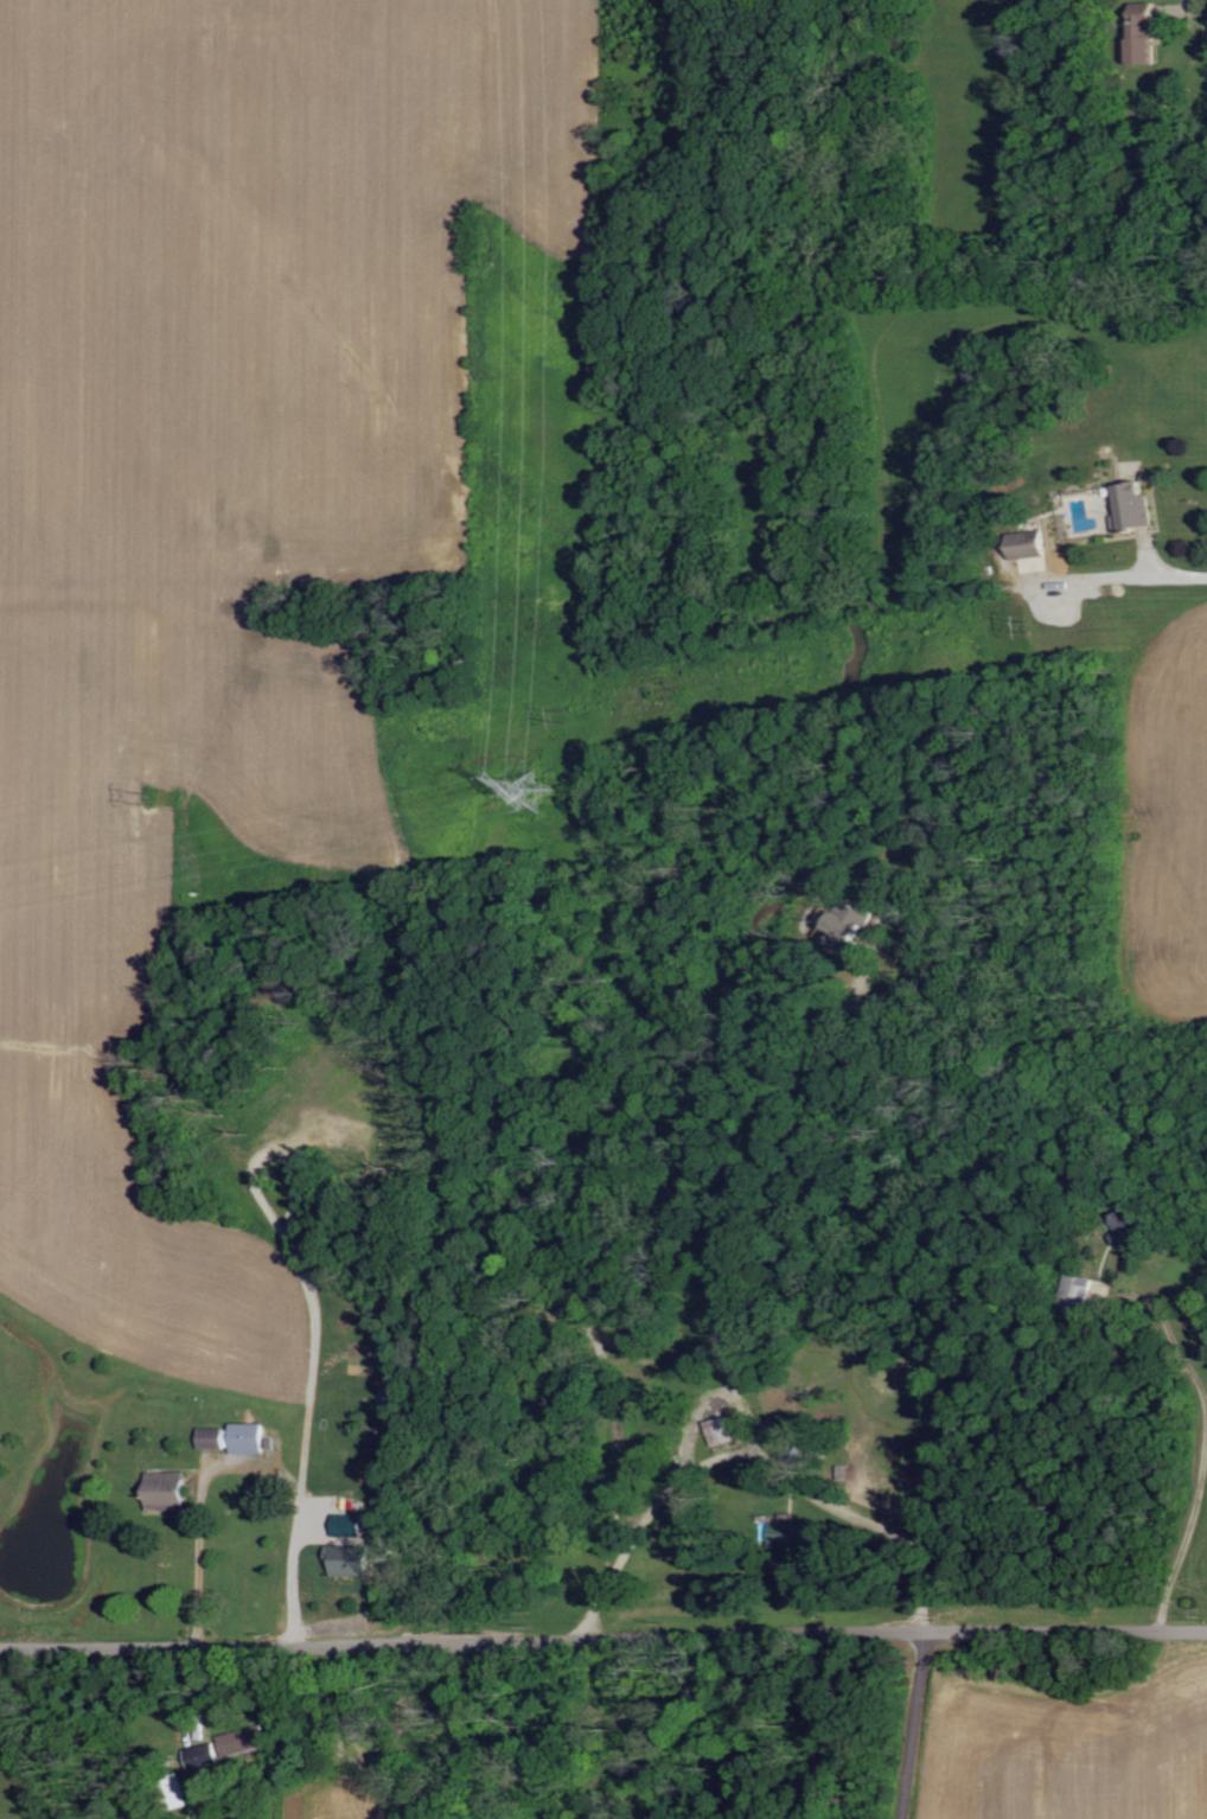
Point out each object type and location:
building: (1154, 40)
building: (1137, 509)
building: (1035, 551)
power tower: (877, 664)
power tower: (566, 715)
power tower: (538, 790)
power tower: (146, 796)
building: (850, 926)
road: (823, 1091)
building: (1126, 1232)
road: (709, 1392)
road: (295, 1415)
building: (726, 1431)
building: (240, 1438)
road: (756, 1453)
building: (174, 1492)
building: (353, 1526)
building: (792, 1536)
road: (185, 1543)
building: (359, 1560)
road: (848, 1629)
road: (449, 1639)
road: (204, 1641)
road: (190, 1702)
road: (913, 1723)
building: (240, 1745)

